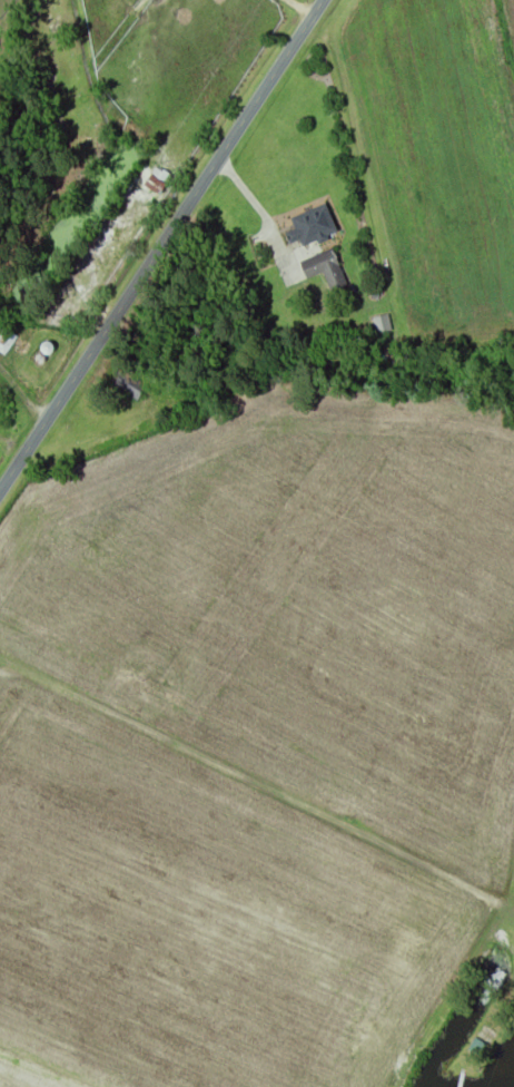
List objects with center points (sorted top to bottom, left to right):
building: (159, 182)
road: (248, 199)
building: (314, 228)
road: (160, 241)
building: (326, 271)
building: (6, 342)
building: (130, 388)
road: (247, 774)

